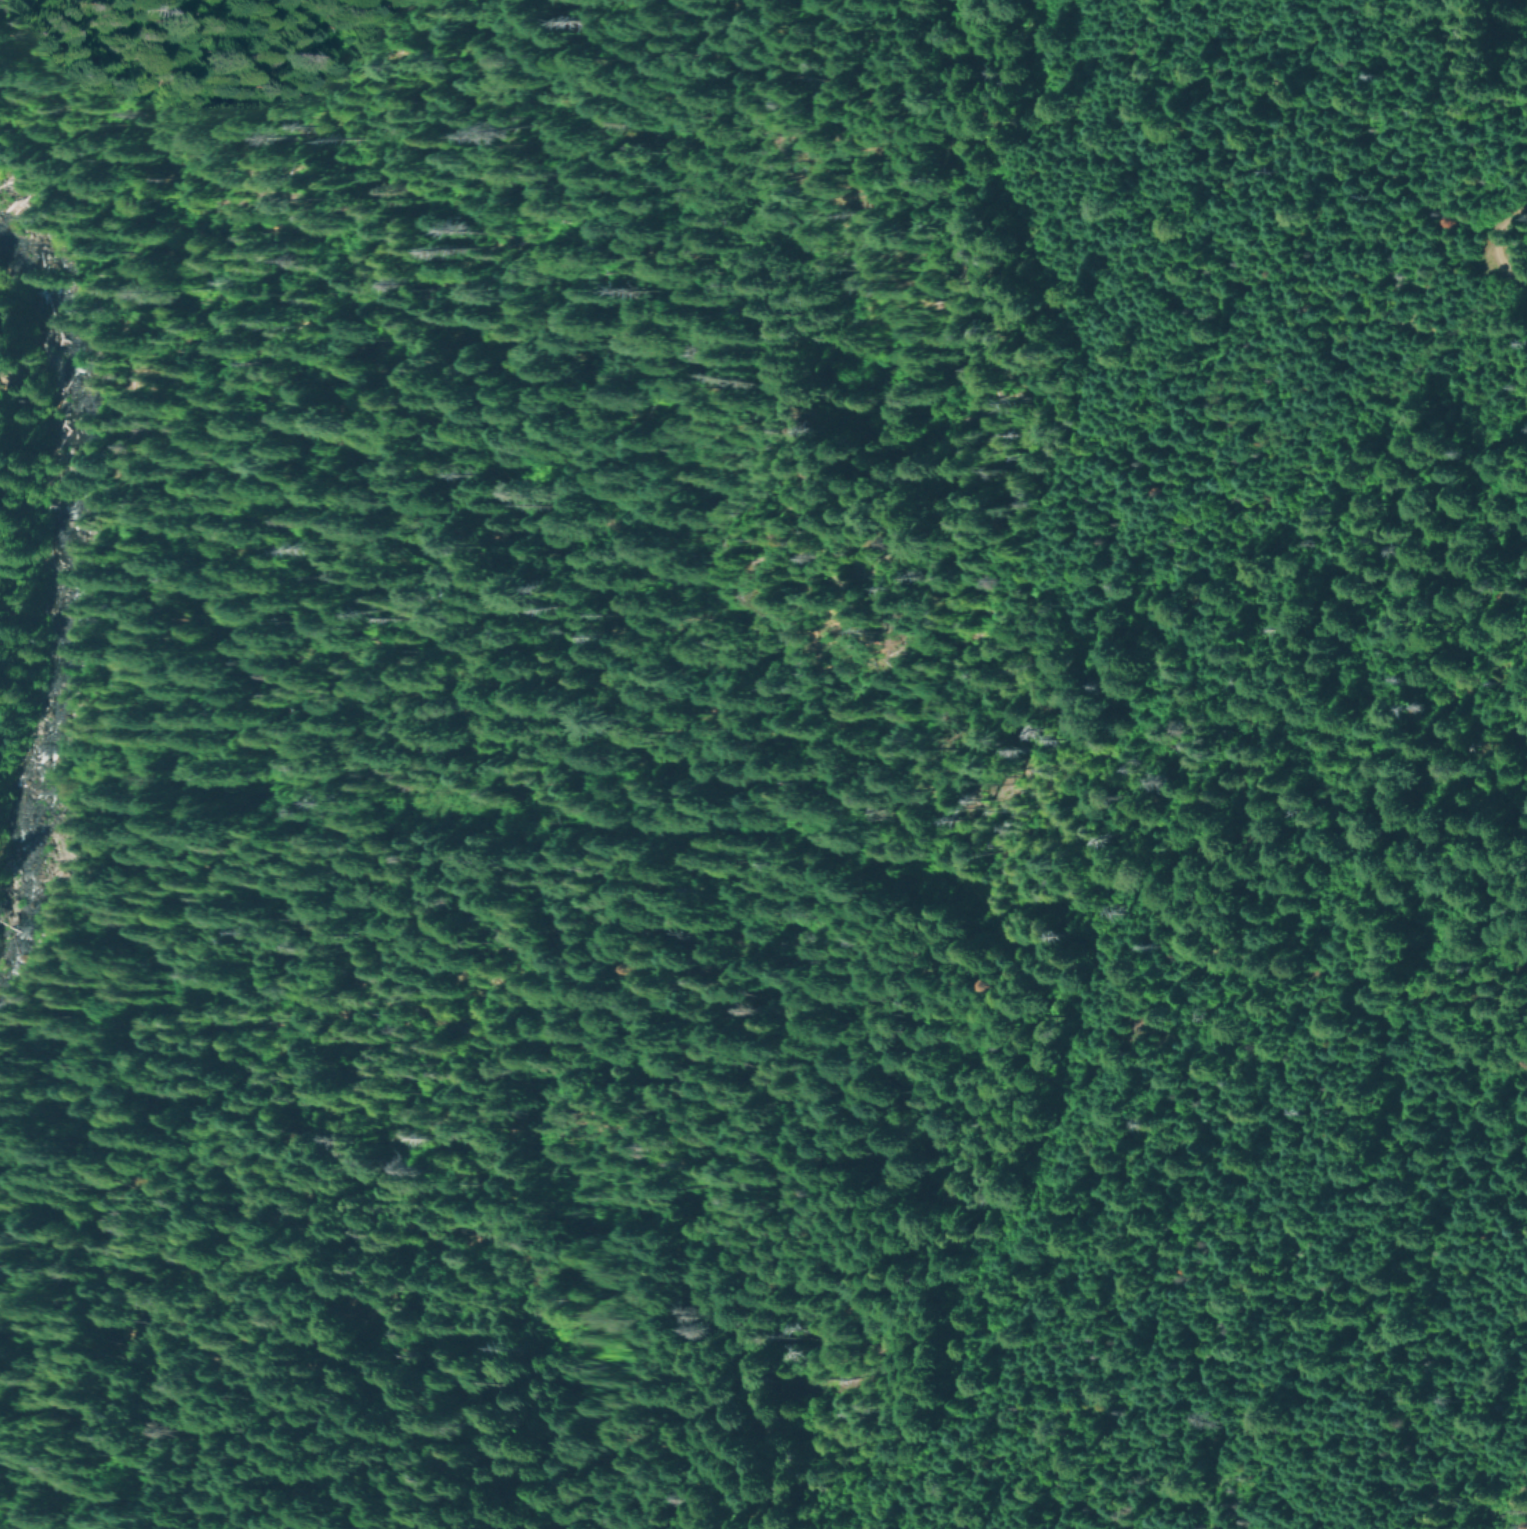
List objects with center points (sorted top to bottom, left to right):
road: (1494, 241)

